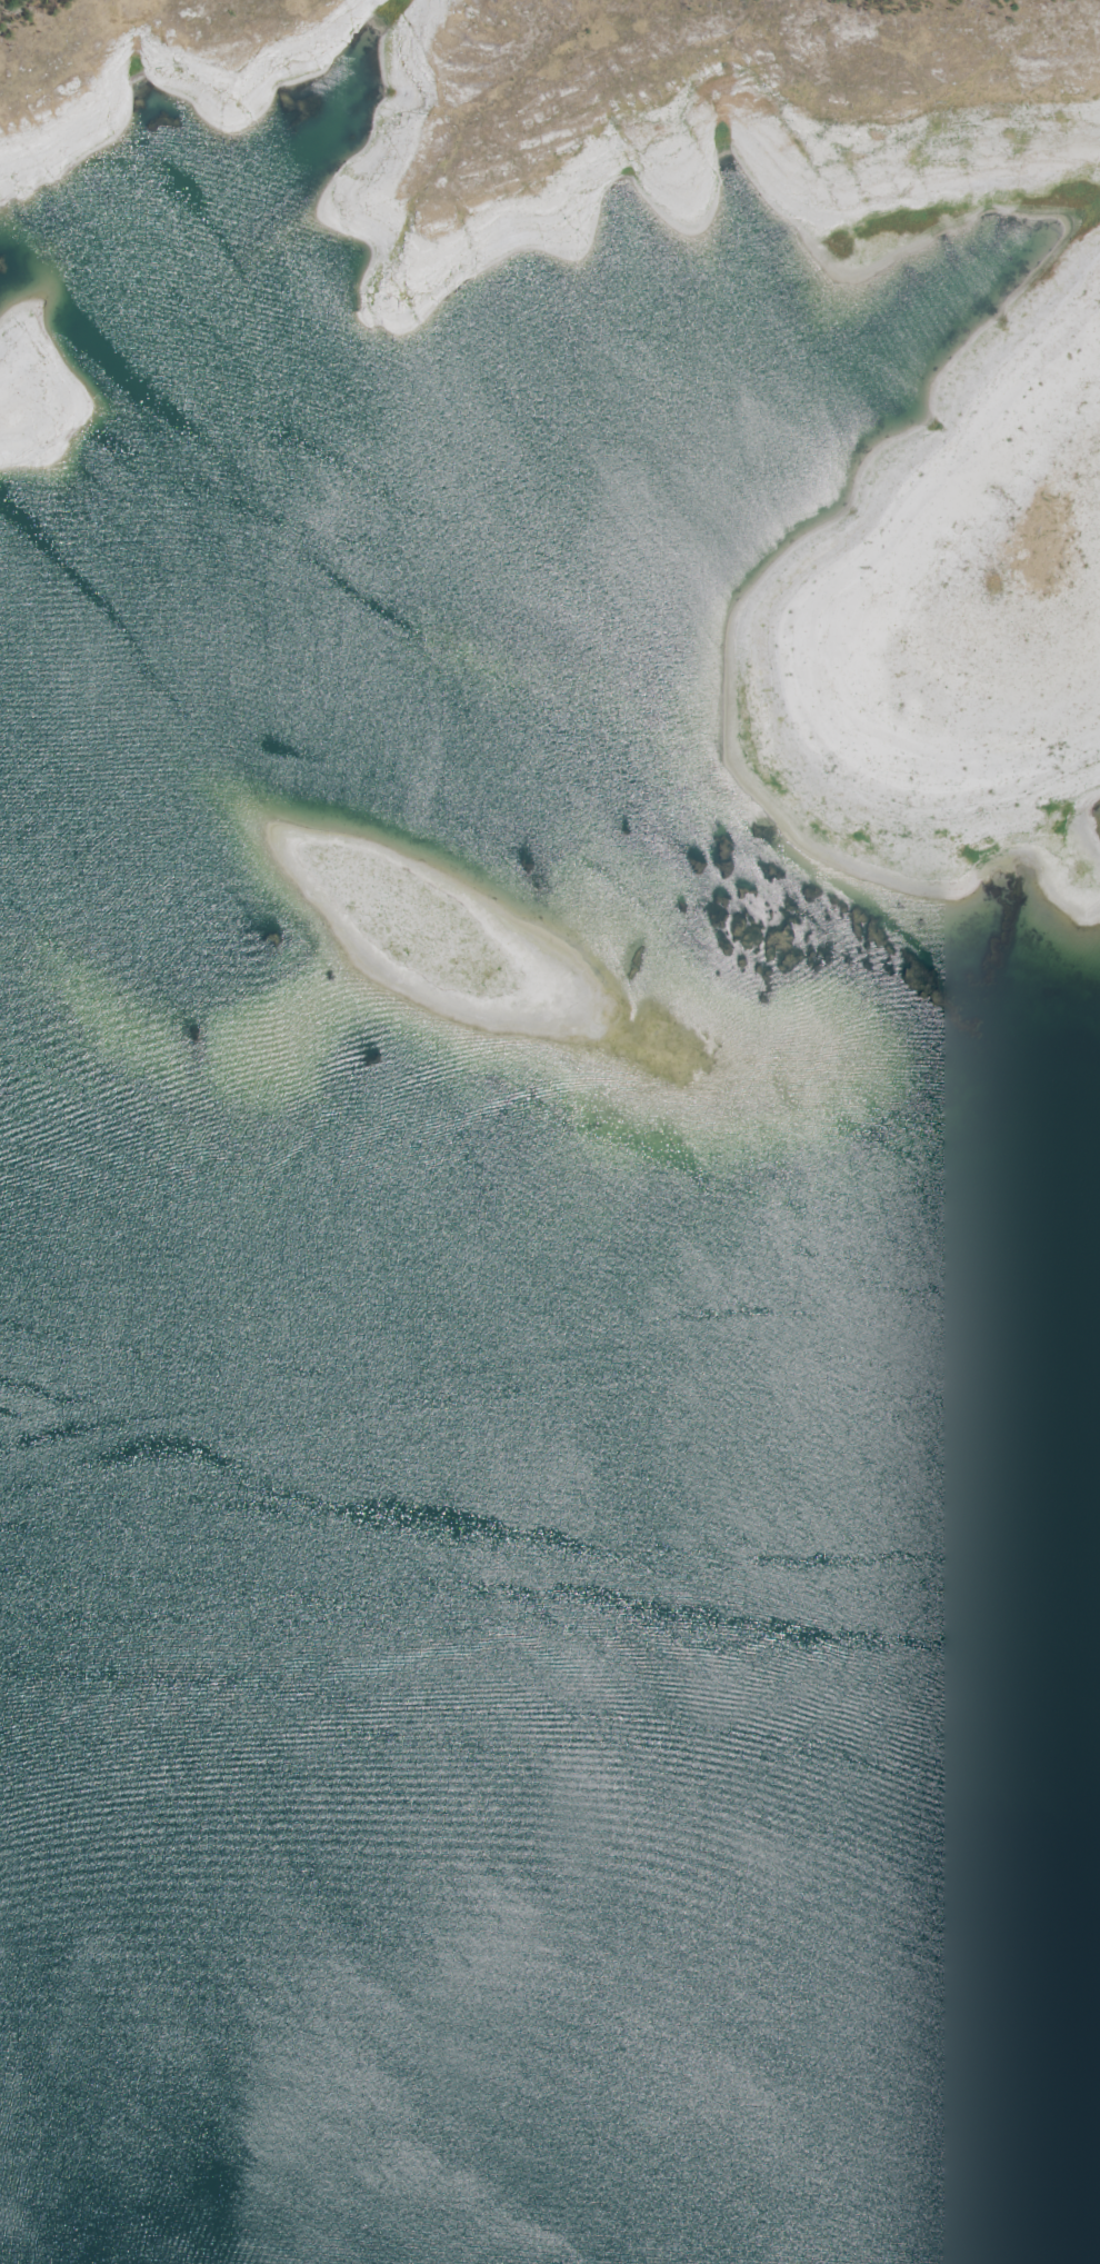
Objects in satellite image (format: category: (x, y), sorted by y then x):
river: (542, 2191)

